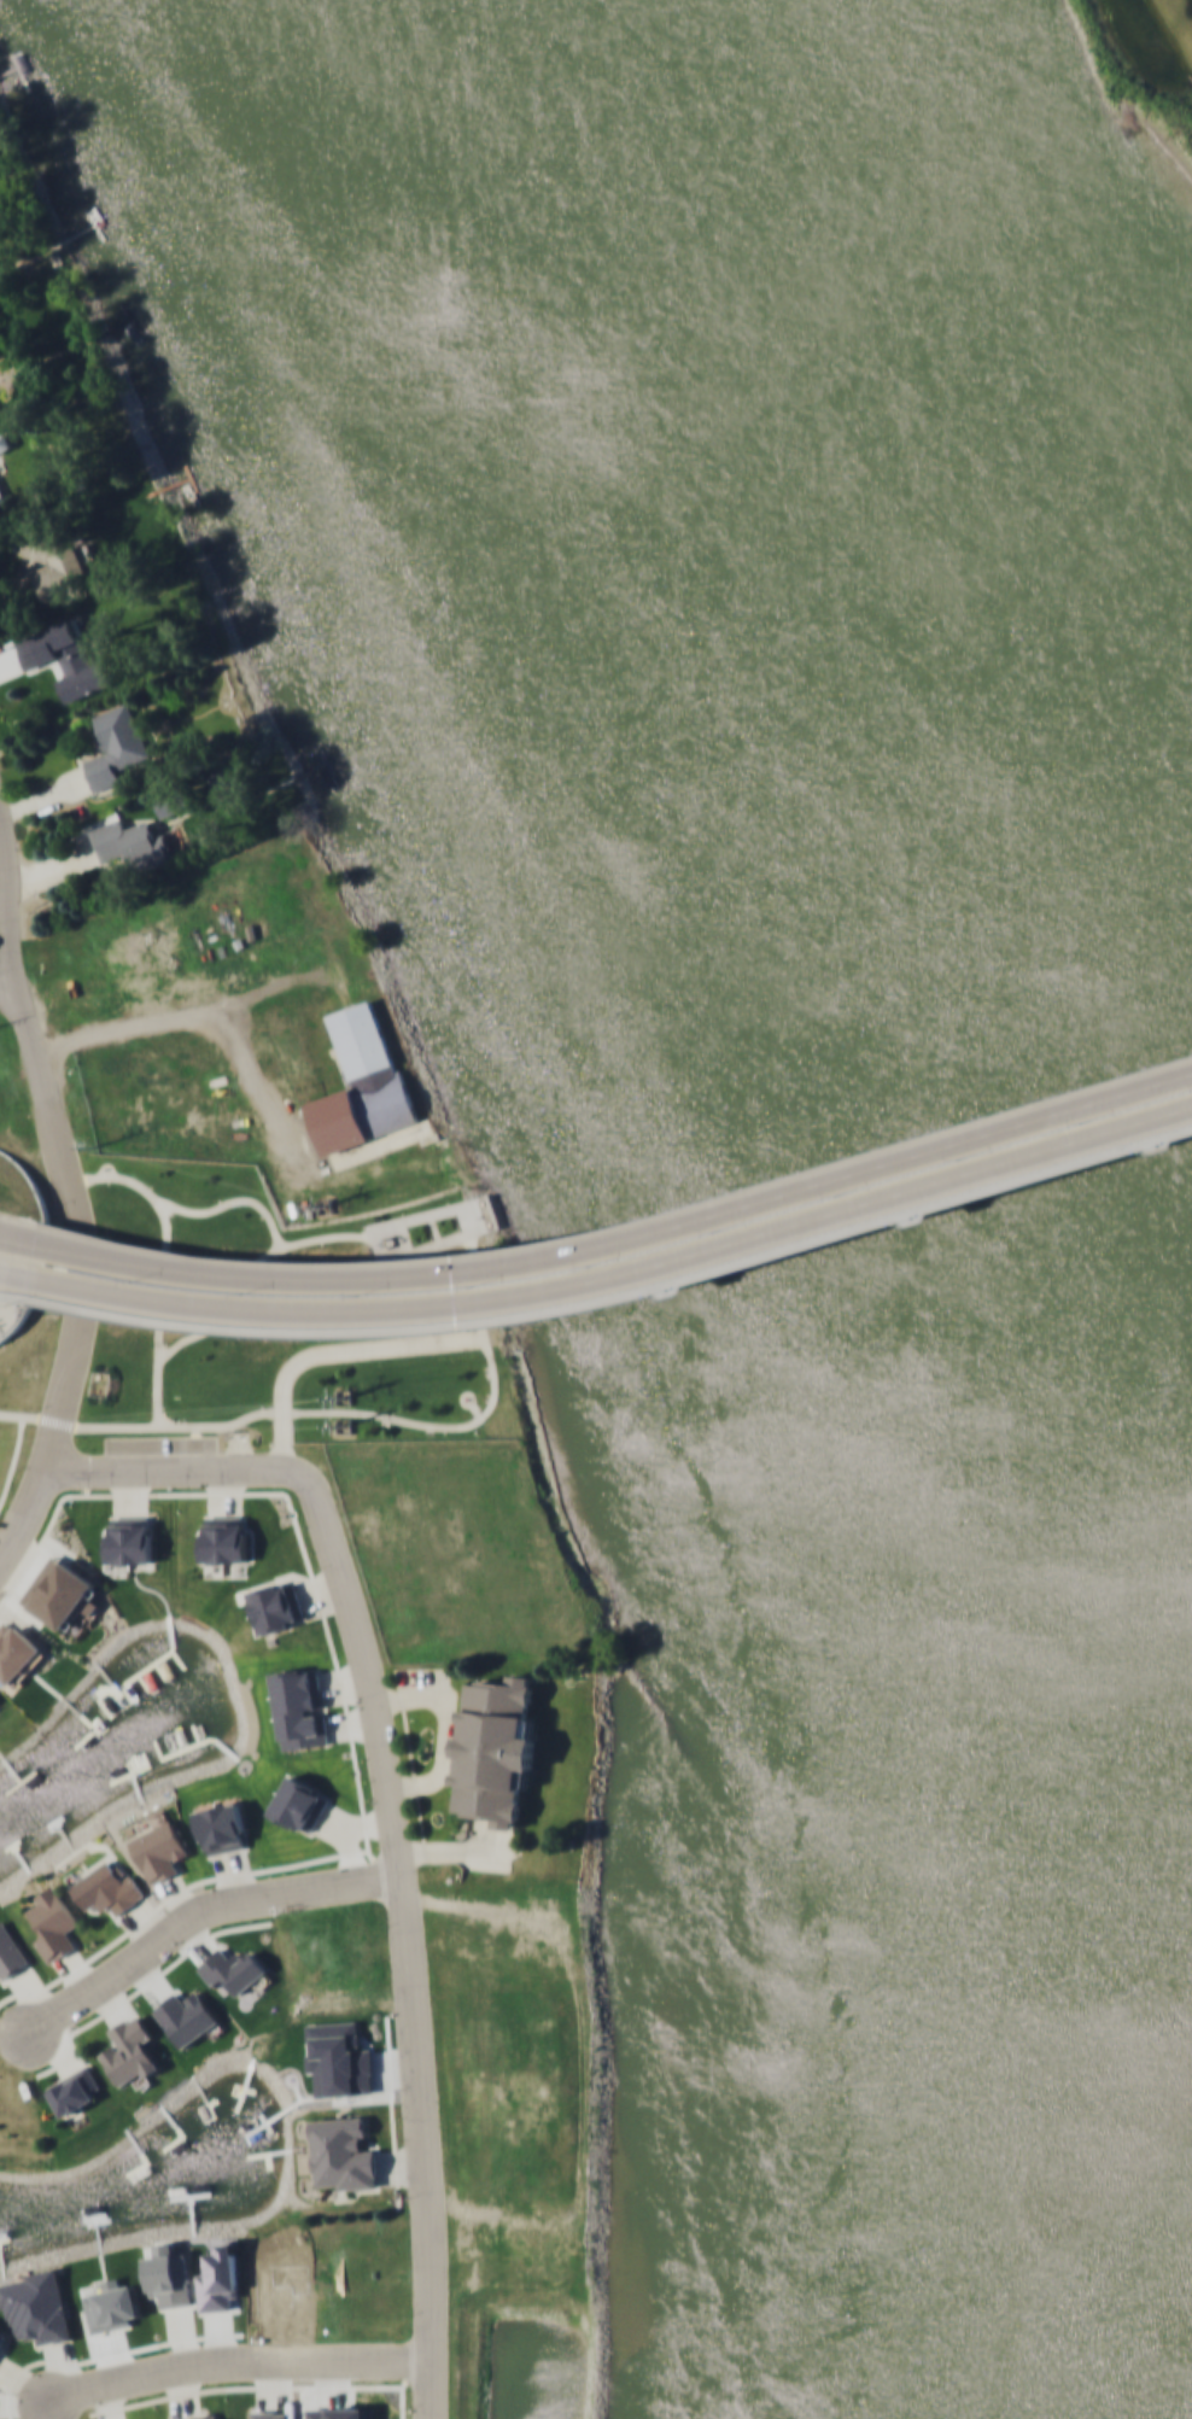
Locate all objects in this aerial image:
park: (1141, 77)
building: (5, 440)
building: (1, 496)
building: (46, 562)
building: (74, 659)
building: (116, 743)
building: (130, 842)
road: (11, 900)
road: (6, 901)
road: (7, 992)
road: (169, 1006)
building: (362, 1081)
road: (1165, 1087)
road: (1176, 1120)
road: (51, 1121)
road: (1181, 1143)
power tower: (95, 1147)
river: (781, 1180)
road: (834, 1187)
power tower: (326, 1205)
road: (11, 1239)
road: (11, 1241)
road: (7, 1273)
road: (273, 1276)
road: (596, 1280)
road: (5, 1292)
road: (598, 1302)
power tower: (346, 1397)
road: (53, 1414)
road: (27, 1420)
power tower: (349, 1426)
building: (223, 1538)
building: (128, 1542)
building: (276, 1605)
building: (16, 1649)
building: (299, 1706)
road: (445, 1729)
building: (496, 1747)
building: (299, 1802)
road: (392, 1809)
building: (107, 1888)
road: (194, 1916)
building: (54, 1922)
building: (11, 1958)
building: (75, 2090)
building: (343, 2152)
road: (234, 2362)
building: (198, 2417)

